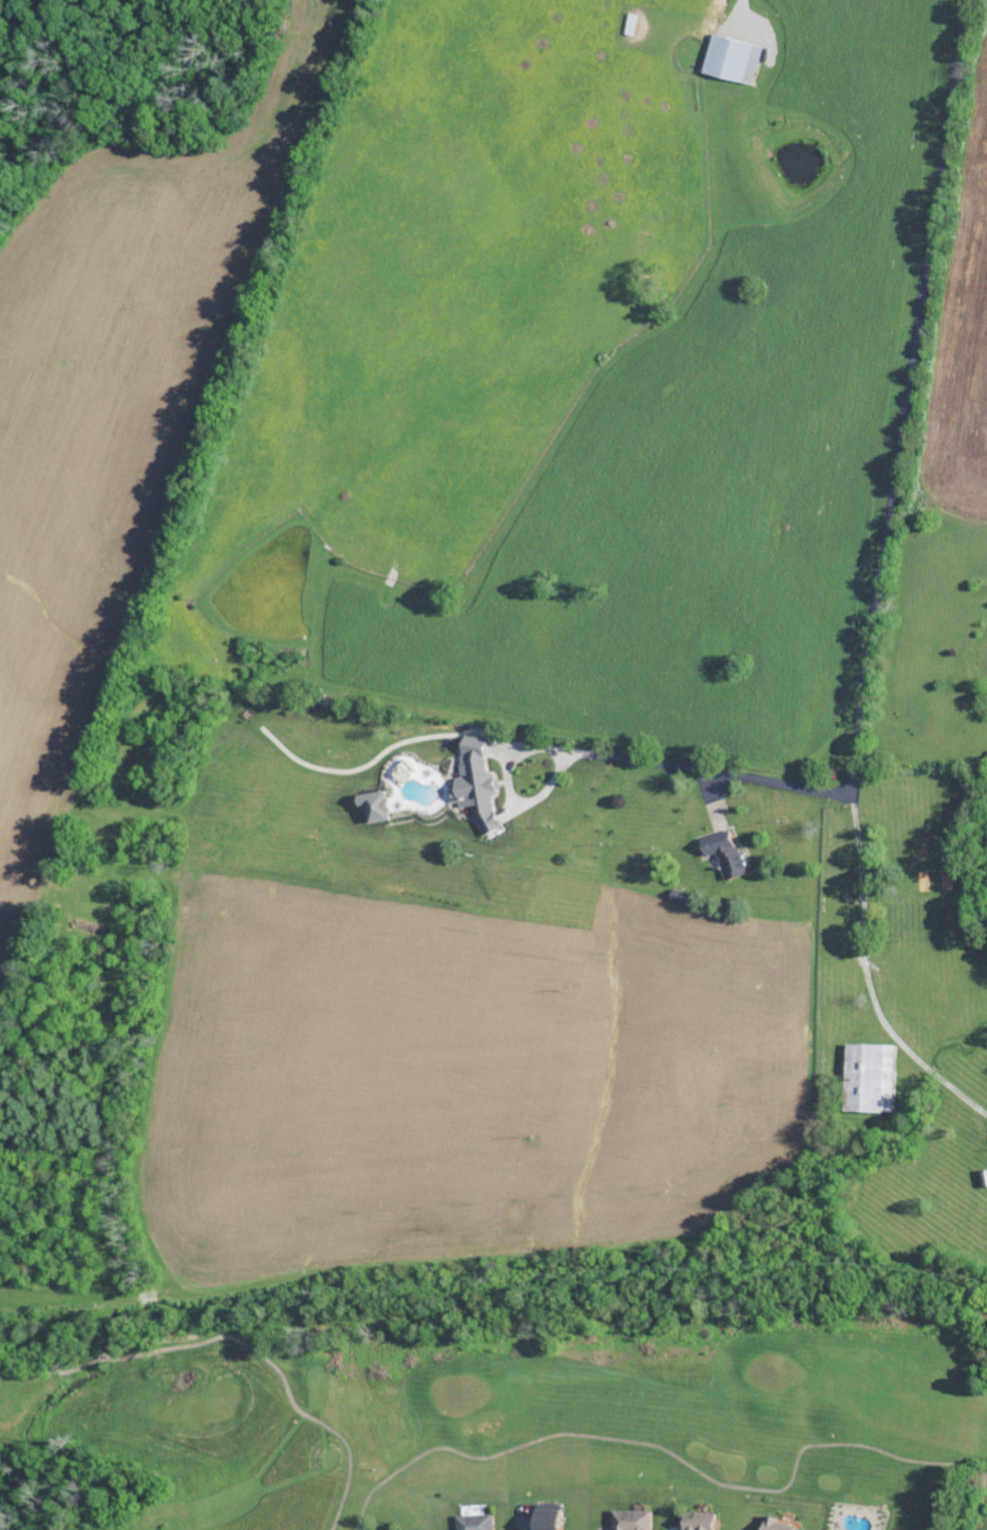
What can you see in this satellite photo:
road: (742, 3)
building: (732, 57)
road: (887, 571)
building: (477, 786)
building: (376, 805)
building: (728, 855)
road: (595, 930)
road: (868, 974)
building: (869, 1077)
road: (421, 1100)
building: (547, 1516)
building: (631, 1519)
building: (698, 1520)
building: (475, 1521)
building: (780, 1524)

